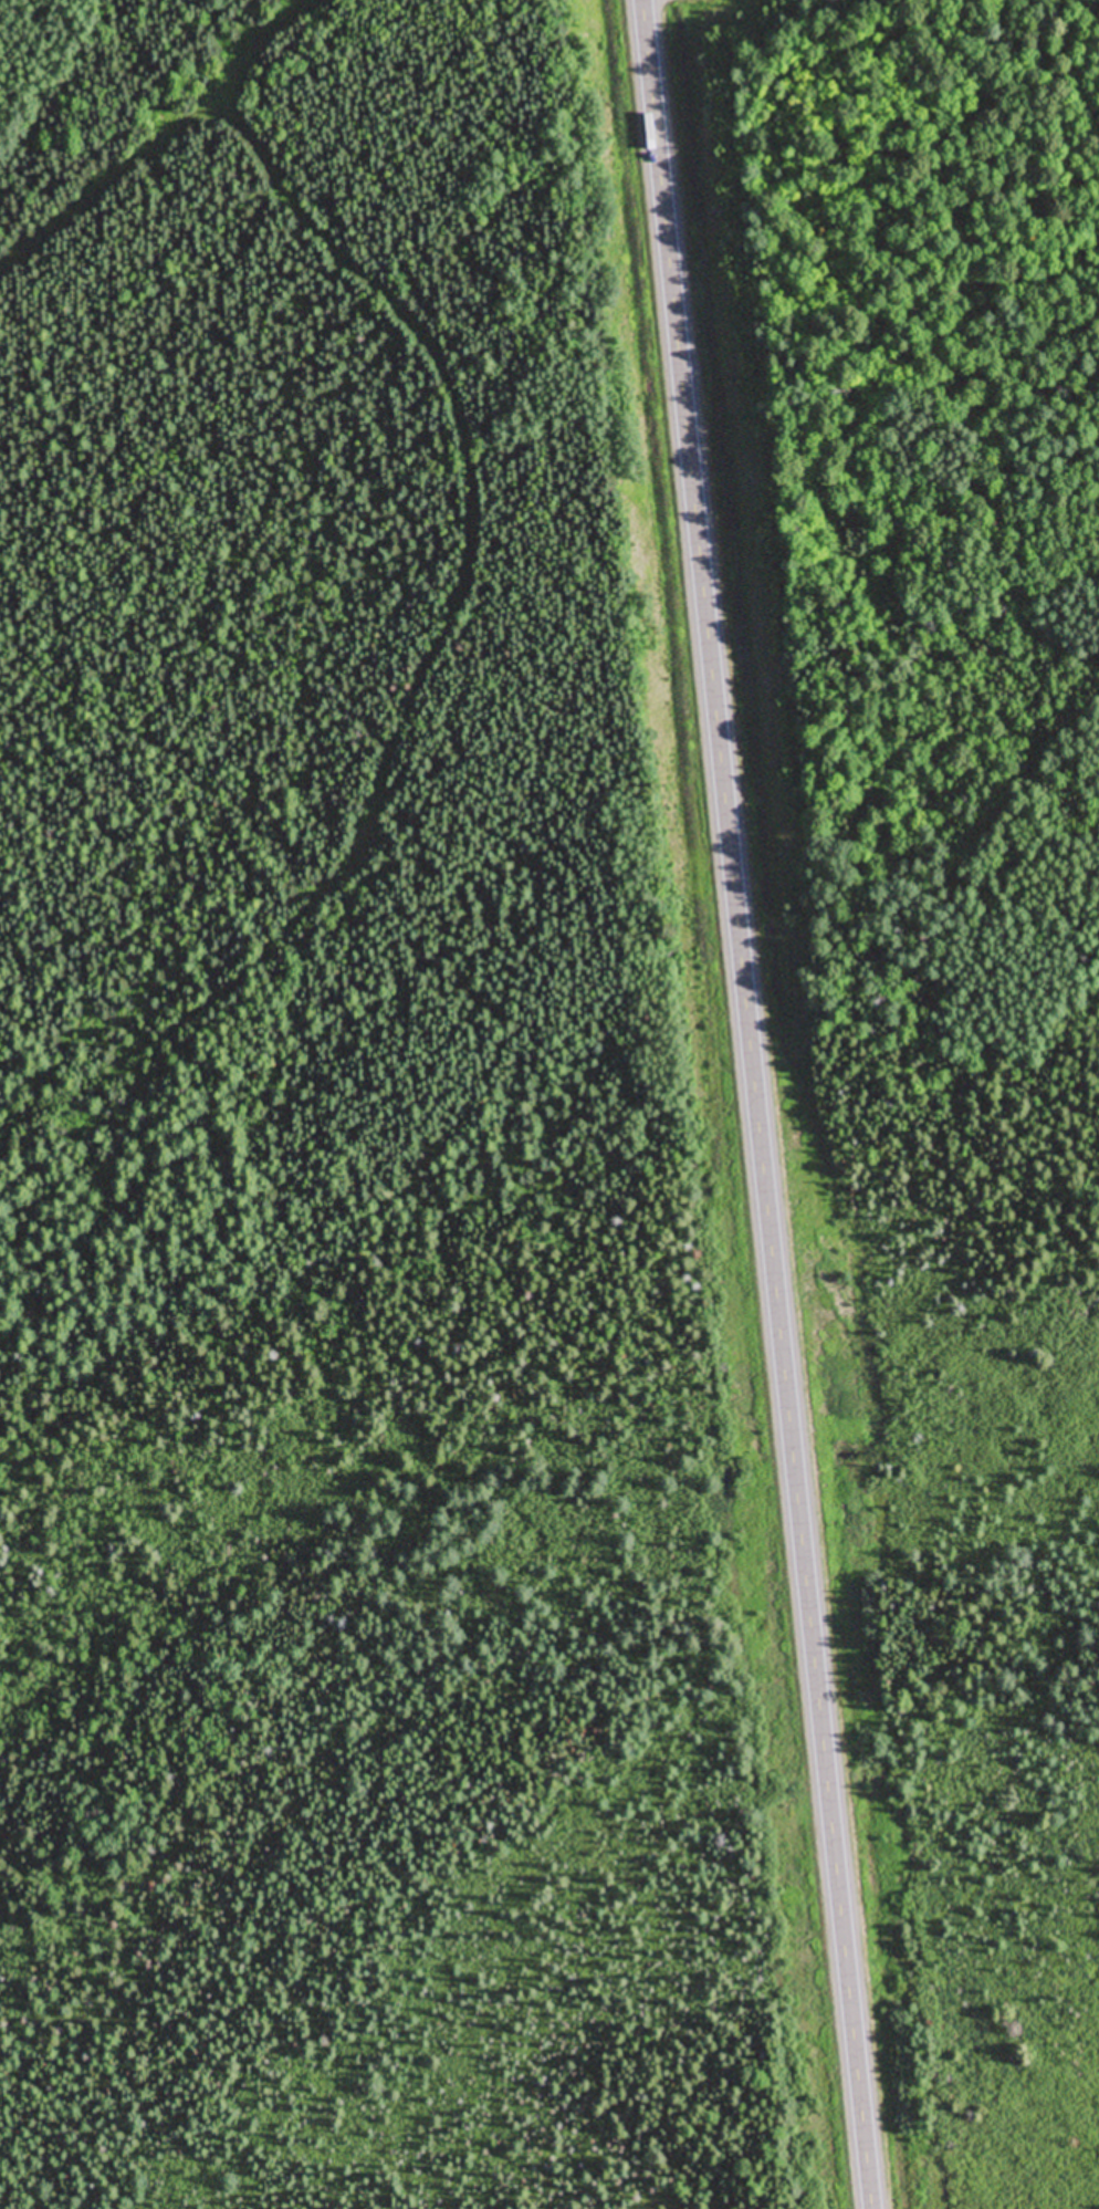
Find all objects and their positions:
road: (756, 1104)

